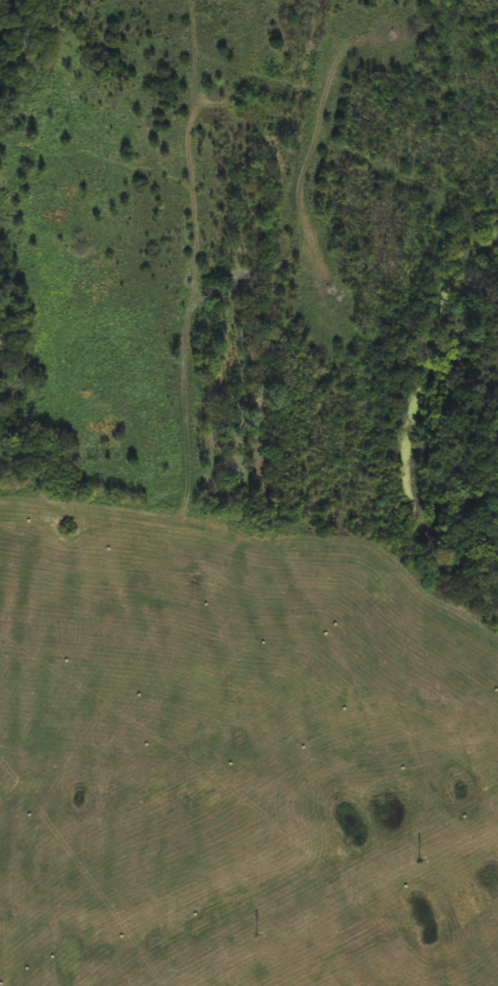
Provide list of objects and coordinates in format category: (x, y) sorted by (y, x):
power tower: (421, 861)
power tower: (263, 935)

